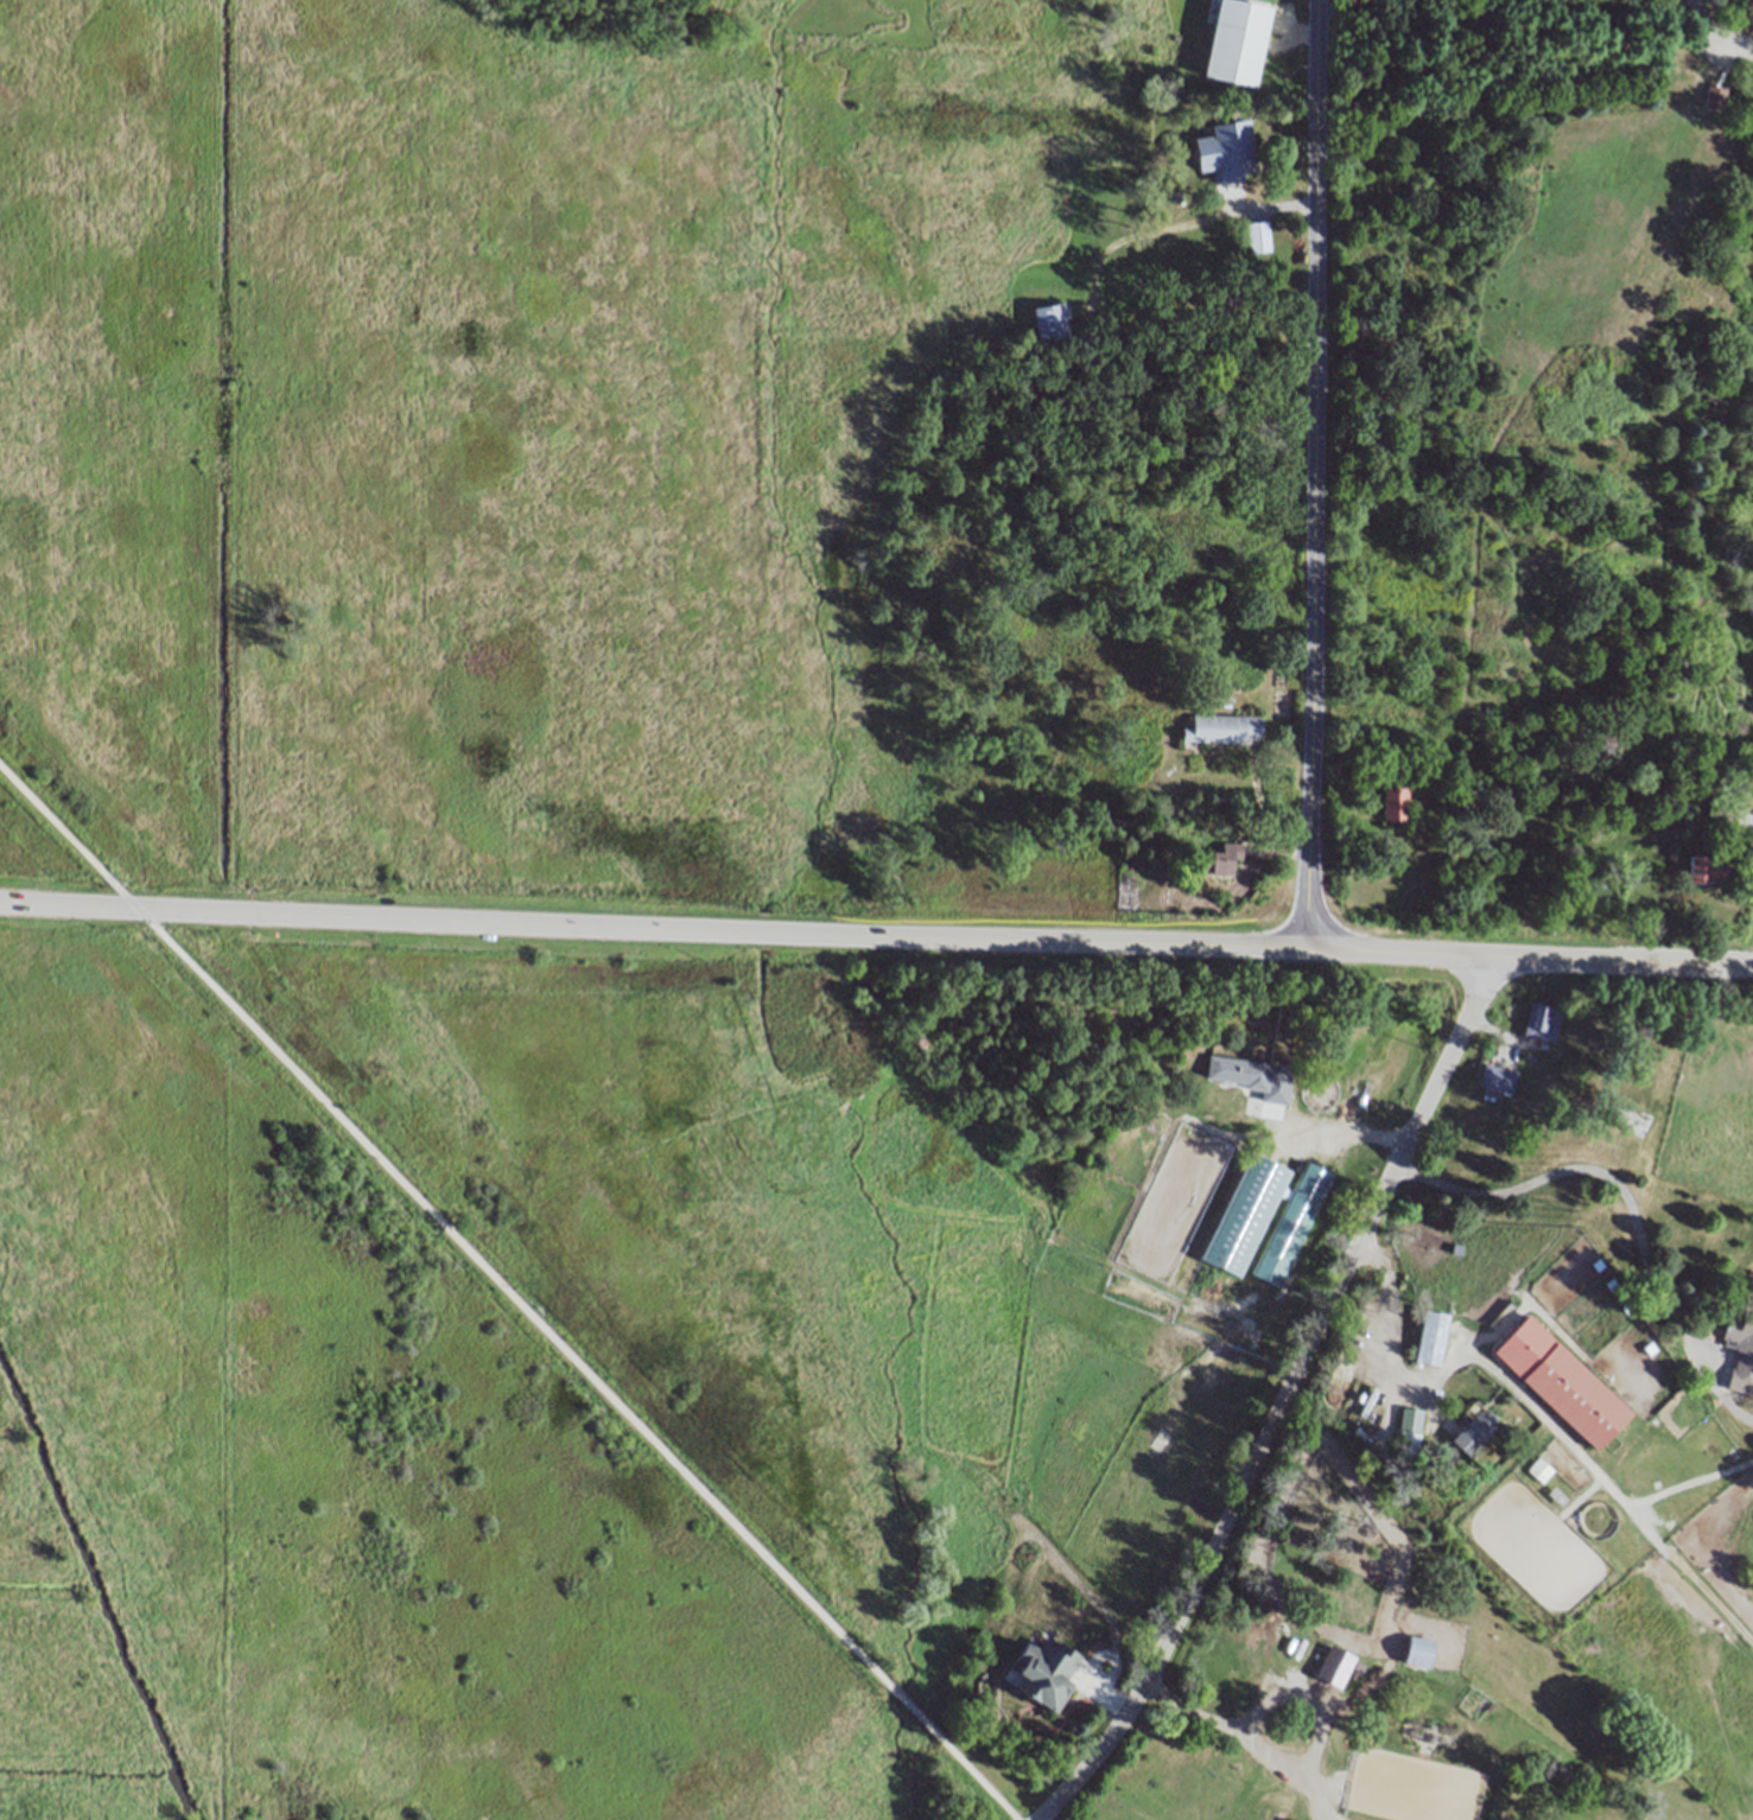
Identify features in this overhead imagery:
road: (1357, 15)
building: (1231, 37)
road: (1748, 44)
building: (1221, 148)
building: (1255, 236)
building: (1050, 318)
road: (1315, 473)
building: (1221, 728)
building: (1609, 744)
building: (1395, 803)
building: (1722, 812)
building: (1221, 859)
building: (1704, 866)
road: (876, 936)
building: (1542, 1020)
building: (1238, 1070)
building: (1497, 1078)
road: (1332, 1128)
road: (1601, 1171)
building: (1246, 1214)
building: (1291, 1223)
road: (507, 1293)
road: (1386, 1337)
building: (1429, 1341)
building: (1739, 1350)
building: (1561, 1381)
road: (1282, 1399)
building: (1408, 1431)
building: (1471, 1434)
building: (1417, 1649)
building: (1243, 1672)
building: (1046, 1673)
road: (1245, 1745)

